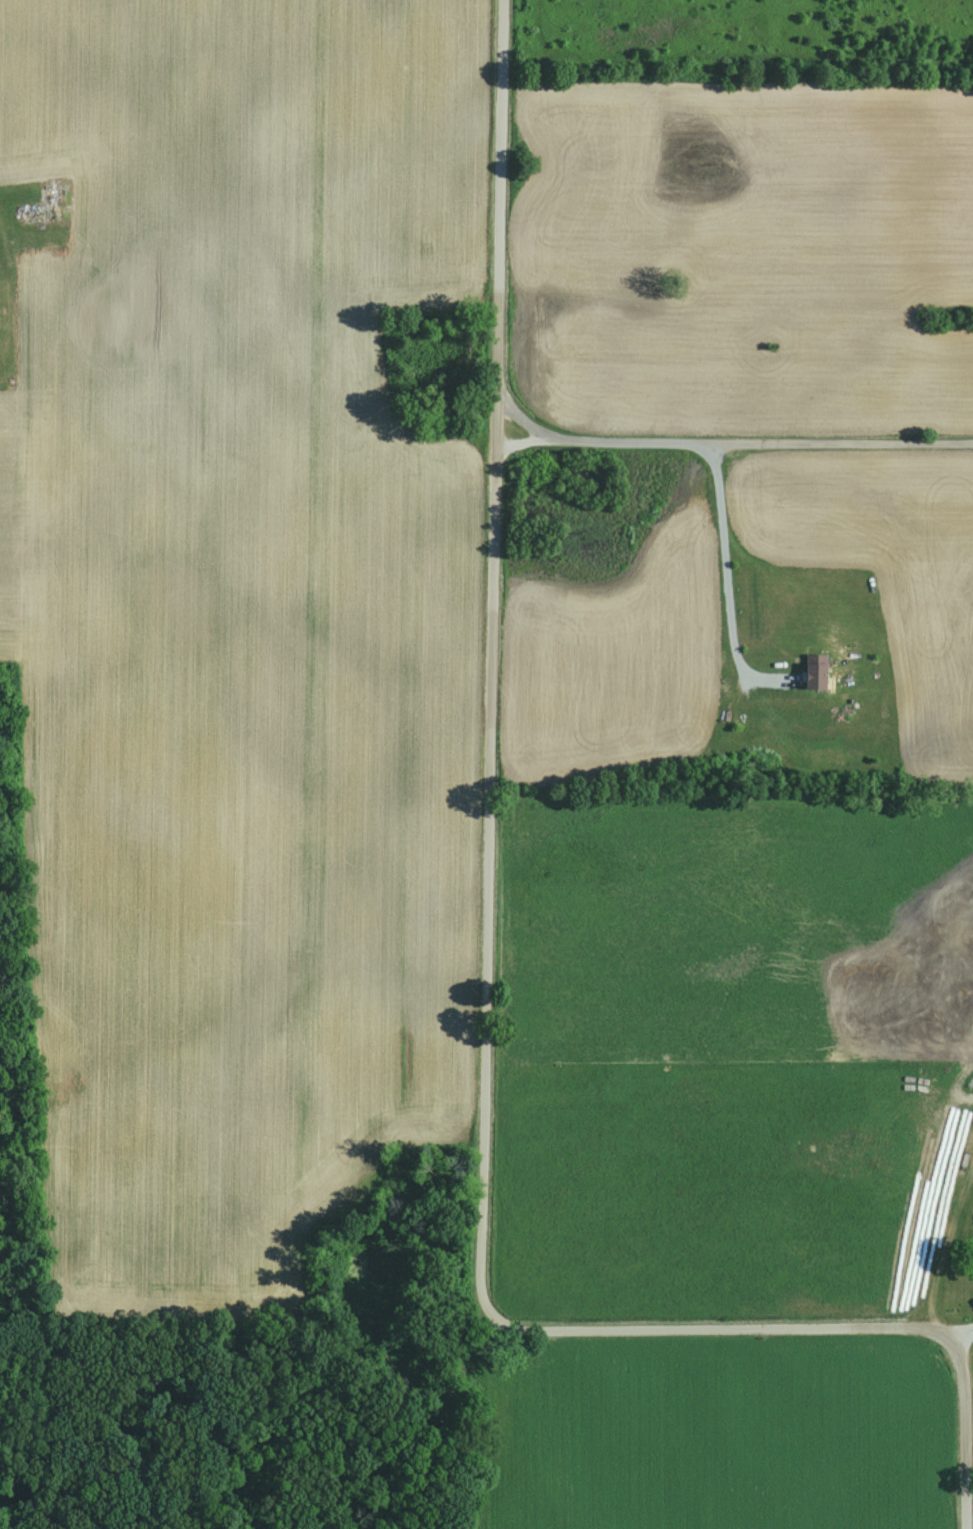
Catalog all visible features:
road: (733, 444)
road: (726, 576)
building: (811, 672)
road: (489, 710)
road: (773, 1327)
road: (966, 1335)
road: (961, 1434)

